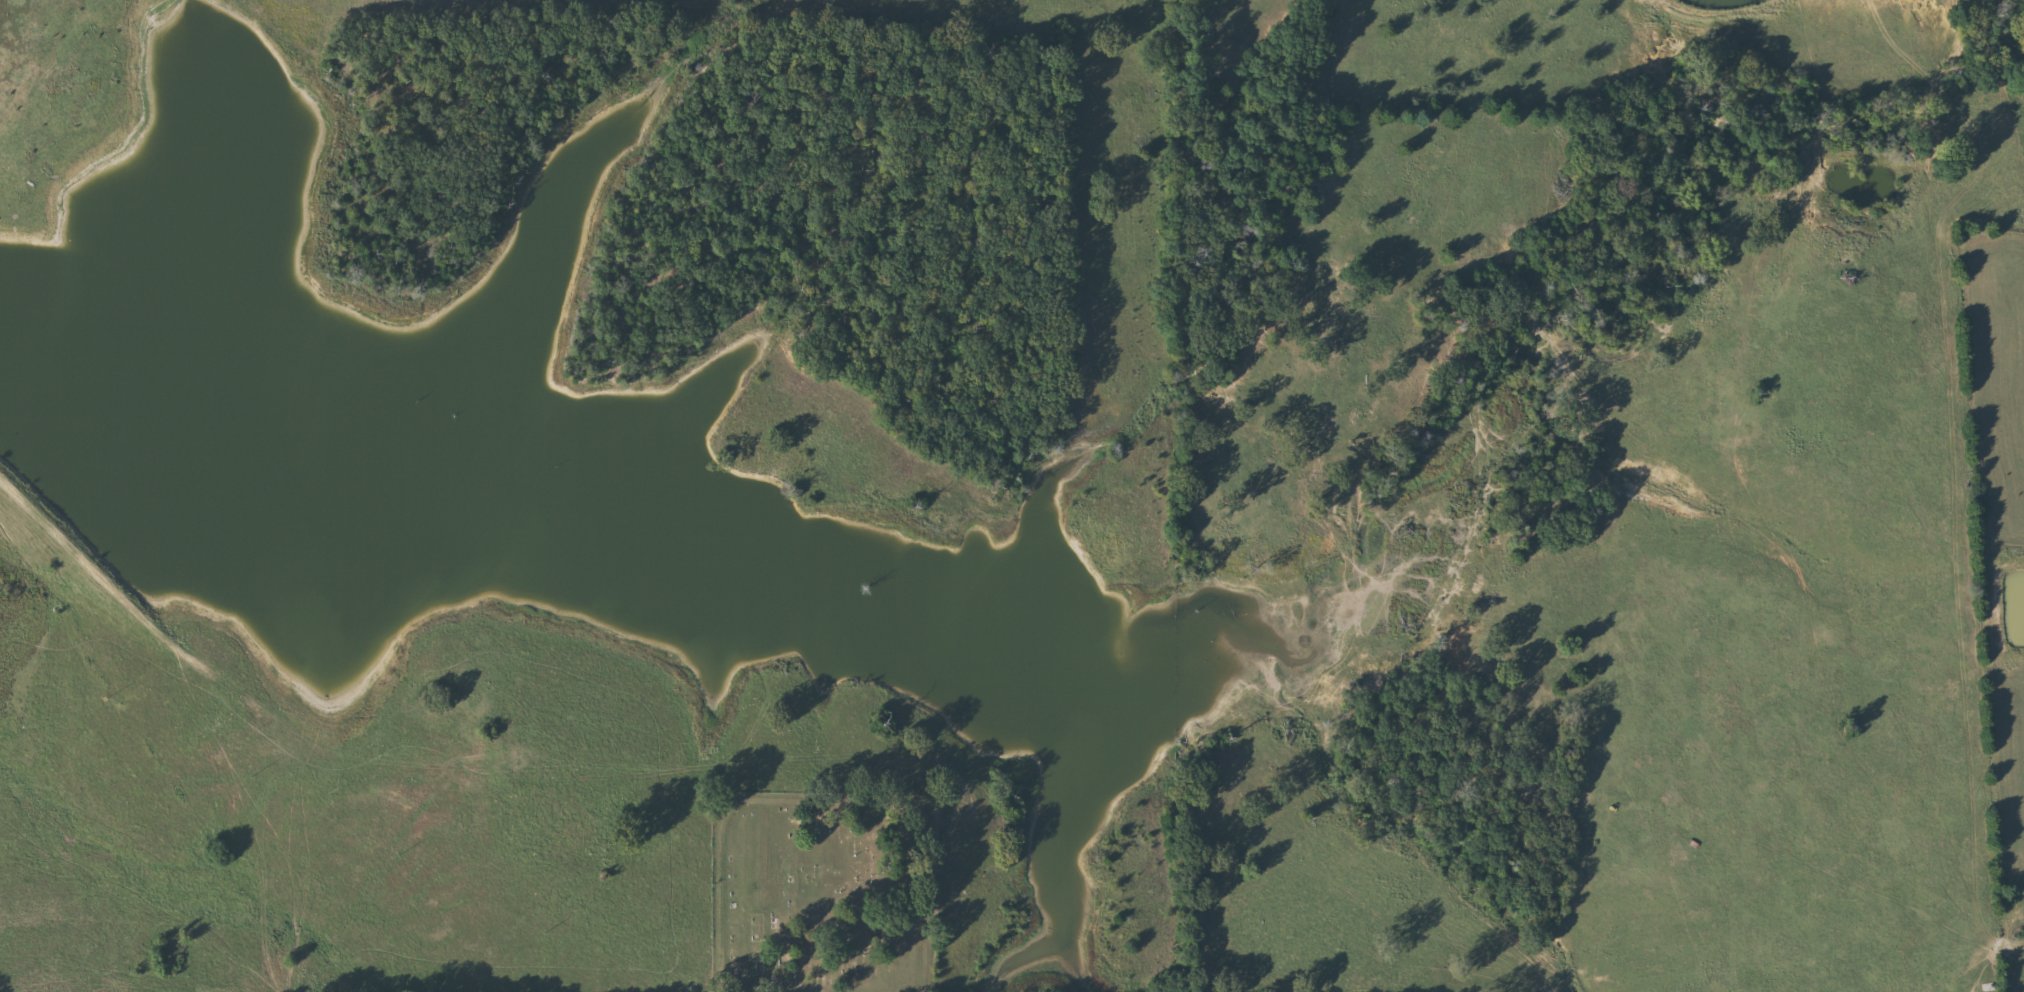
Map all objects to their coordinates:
road: (721, 882)
road: (1845, 888)
park: (826, 890)

